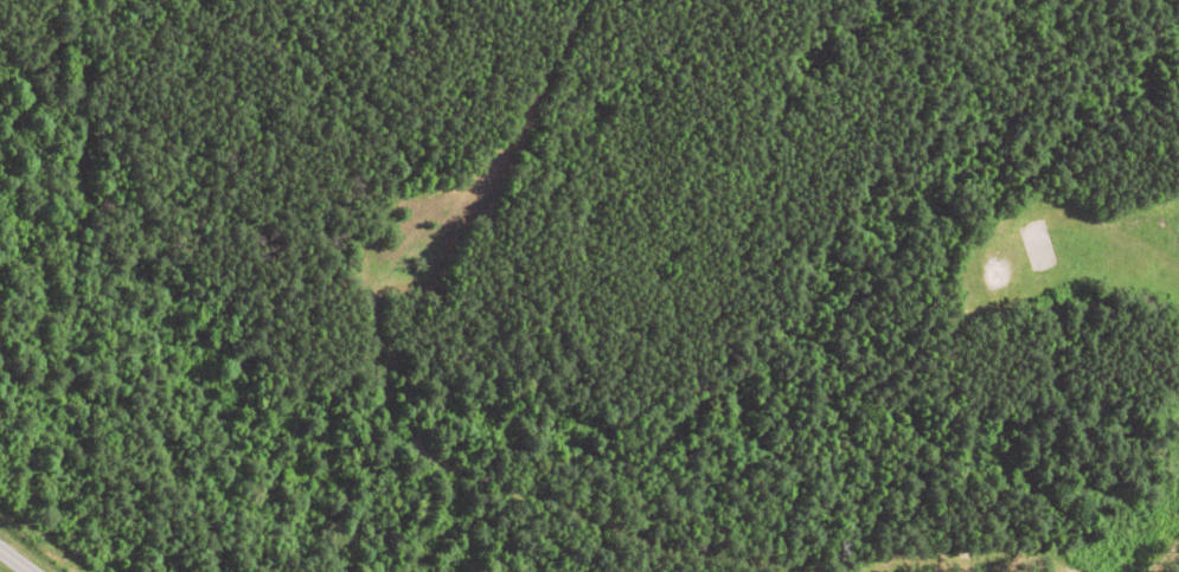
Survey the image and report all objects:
road: (1023, 338)
road: (12, 563)

